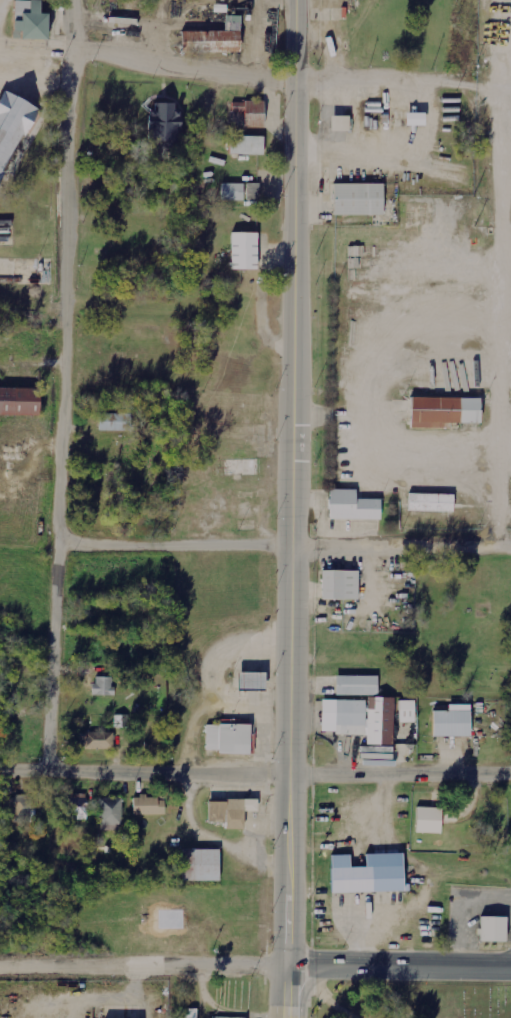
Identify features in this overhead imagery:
building: (28, 20)
building: (214, 38)
road: (182, 66)
building: (237, 107)
building: (254, 113)
building: (415, 119)
building: (339, 123)
building: (11, 128)
building: (247, 145)
building: (253, 191)
building: (233, 192)
building: (358, 199)
building: (244, 251)
road: (62, 386)
building: (19, 401)
building: (444, 411)
building: (116, 422)
building: (431, 502)
building: (352, 506)
road: (293, 508)
road: (284, 547)
building: (339, 585)
building: (251, 681)
building: (356, 685)
building: (103, 686)
building: (407, 712)
building: (452, 722)
building: (229, 738)
building: (96, 740)
road: (25, 771)
road: (280, 775)
building: (77, 806)
building: (148, 806)
building: (20, 808)
building: (110, 812)
building: (230, 812)
building: (429, 820)
building: (201, 865)
building: (368, 874)
building: (493, 929)
road: (144, 965)
road: (399, 965)
road: (322, 991)
park: (416, 1002)
building: (221, 1017)

